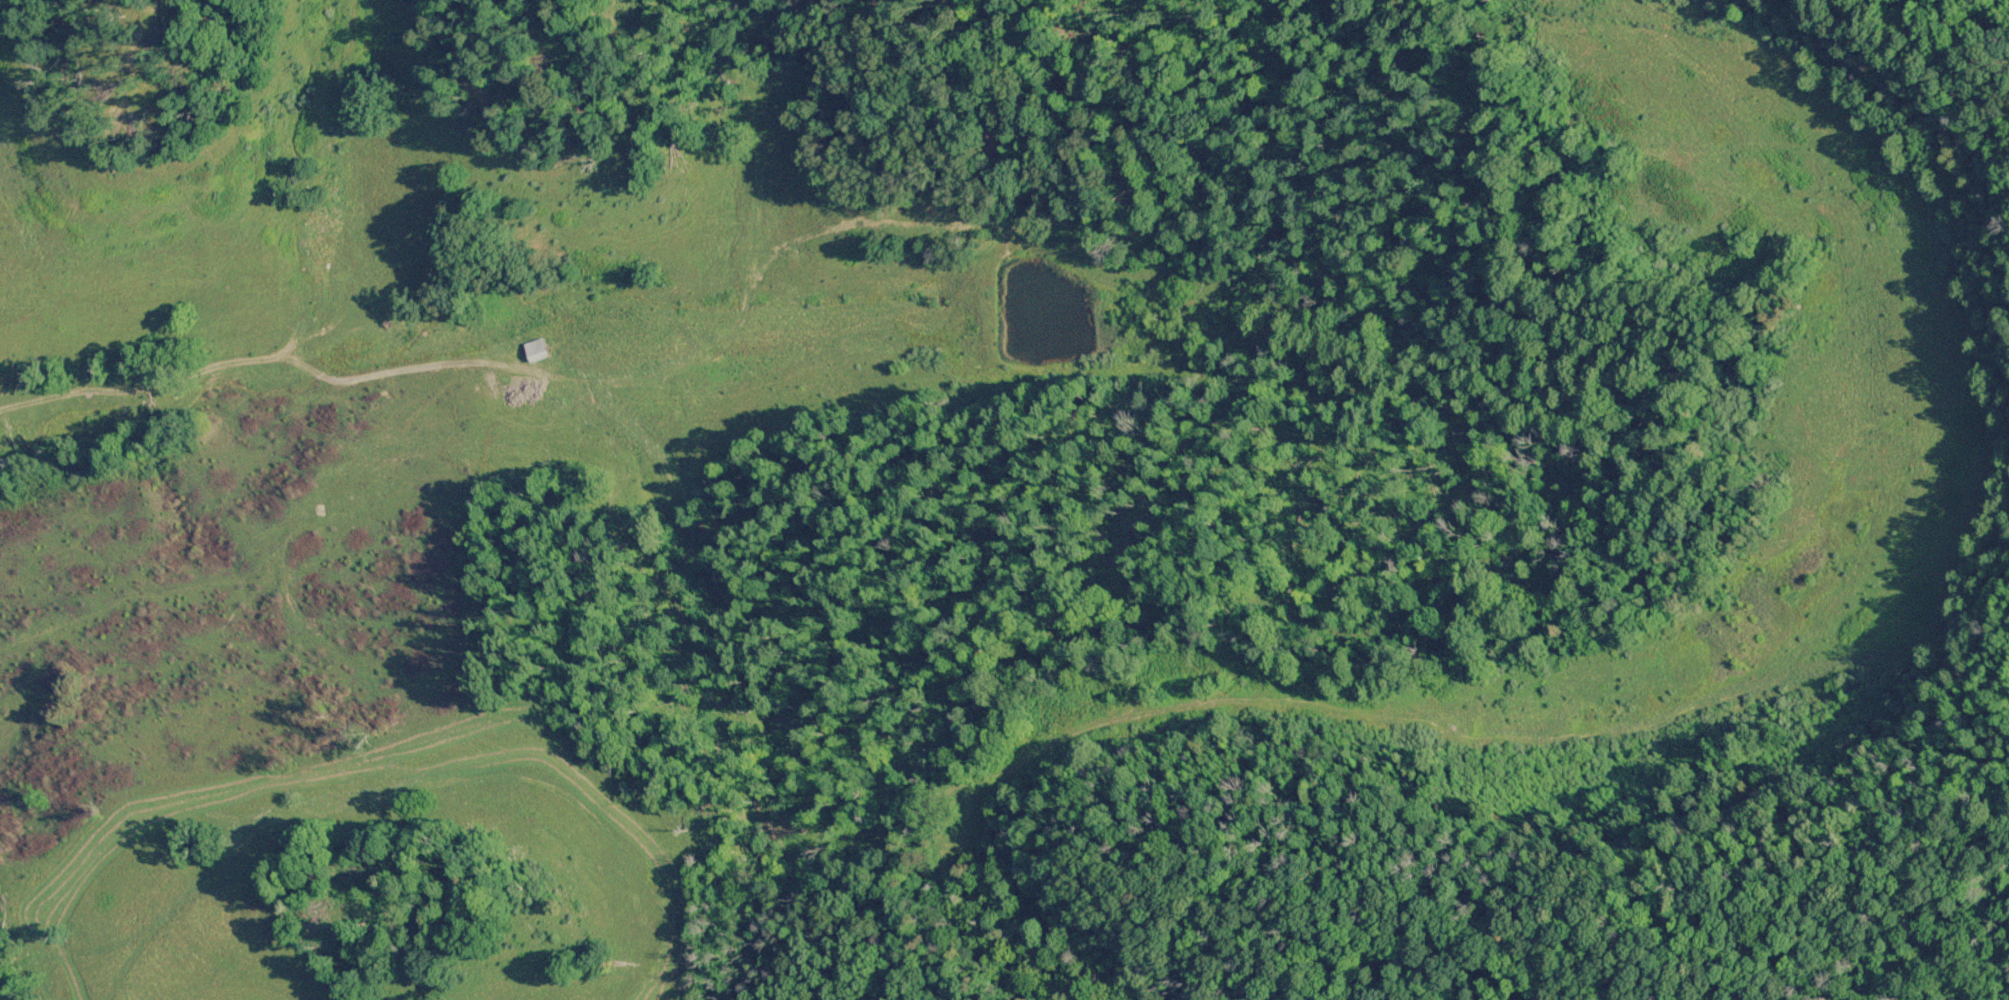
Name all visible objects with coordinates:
building: (536, 348)

